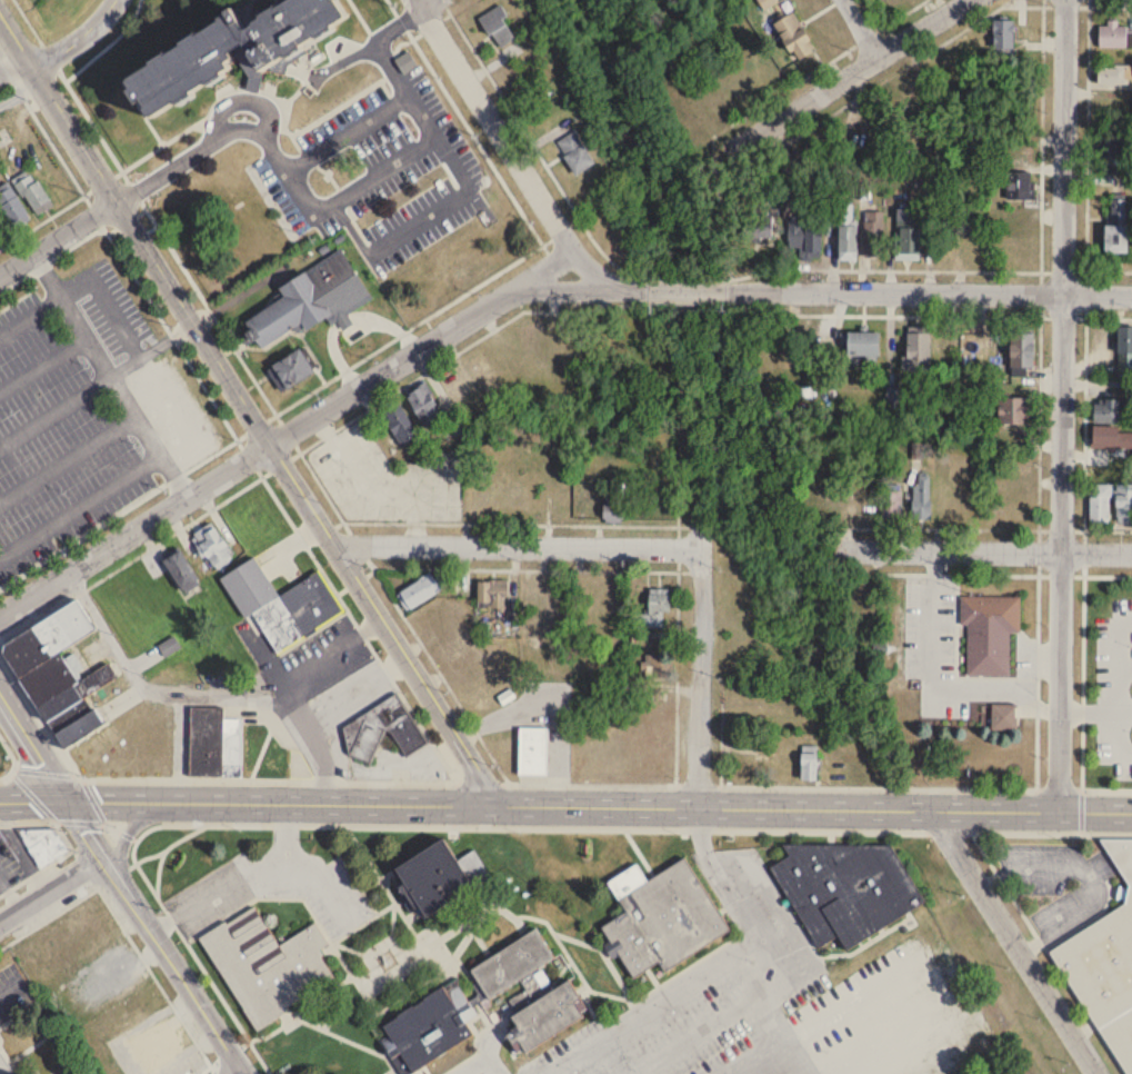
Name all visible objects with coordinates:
building: (767, 2)
building: (889, 3)
road: (434, 4)
road: (903, 12)
building: (497, 27)
road: (861, 28)
building: (1002, 34)
building: (1112, 34)
building: (792, 37)
road: (81, 38)
road: (373, 46)
building: (230, 49)
building: (405, 62)
road: (849, 73)
building: (1111, 73)
road: (22, 93)
road: (217, 125)
road: (347, 135)
building: (1106, 147)
road: (514, 149)
building: (574, 152)
road: (399, 160)
parking lot: (383, 171)
building: (1019, 185)
road: (445, 206)
building: (757, 227)
building: (1115, 228)
road: (134, 232)
building: (847, 232)
building: (873, 233)
building: (908, 235)
road: (58, 240)
building: (804, 240)
road: (832, 291)
building: (311, 300)
road: (29, 312)
building: (1124, 345)
building: (860, 346)
building: (563, 347)
road: (152, 348)
building: (1020, 350)
road: (430, 351)
building: (916, 351)
road: (42, 362)
building: (289, 370)
road: (112, 379)
building: (454, 388)
road: (1062, 405)
building: (423, 406)
road: (54, 409)
building: (1013, 410)
building: (1111, 411)
parking lot: (73, 412)
building: (399, 424)
building: (1111, 438)
road: (68, 460)
building: (819, 483)
building: (893, 500)
building: (1123, 504)
building: (612, 505)
building: (1099, 505)
road: (81, 506)
road: (139, 536)
building: (212, 547)
road: (519, 549)
road: (982, 550)
road: (1083, 551)
building: (180, 573)
building: (419, 593)
building: (491, 595)
building: (280, 605)
building: (532, 608)
building: (652, 610)
road: (389, 624)
building: (989, 633)
building: (638, 637)
building: (457, 643)
building: (169, 647)
road: (324, 656)
building: (52, 664)
building: (652, 666)
road: (932, 670)
road: (700, 678)
road: (1034, 683)
road: (1119, 686)
road: (354, 690)
road: (206, 693)
road: (1095, 709)
building: (1002, 717)
building: (78, 729)
building: (382, 730)
building: (531, 752)
building: (231, 755)
building: (808, 764)
road: (151, 777)
traffic signals: (63, 799)
road: (565, 804)
road: (131, 827)
road: (1026, 832)
building: (44, 845)
road: (1089, 875)
road: (251, 876)
building: (431, 877)
building: (843, 879)
road: (121, 881)
parking lot: (278, 885)
road: (48, 887)
building: (665, 908)
road: (127, 931)
road: (1014, 944)
building: (517, 953)
building: (268, 957)
road: (768, 959)
road: (812, 959)
building: (1106, 965)
road: (202, 967)
road: (703, 967)
road: (8, 988)
parking lot: (710, 993)
building: (550, 1006)
building: (429, 1022)
road: (702, 1035)
building: (157, 1046)
road: (475, 1057)
building: (4, 1065)
parking lot: (480, 1066)
road: (240, 1072)
road: (243, 1072)
building: (124, 1073)
building: (792, 1073)

